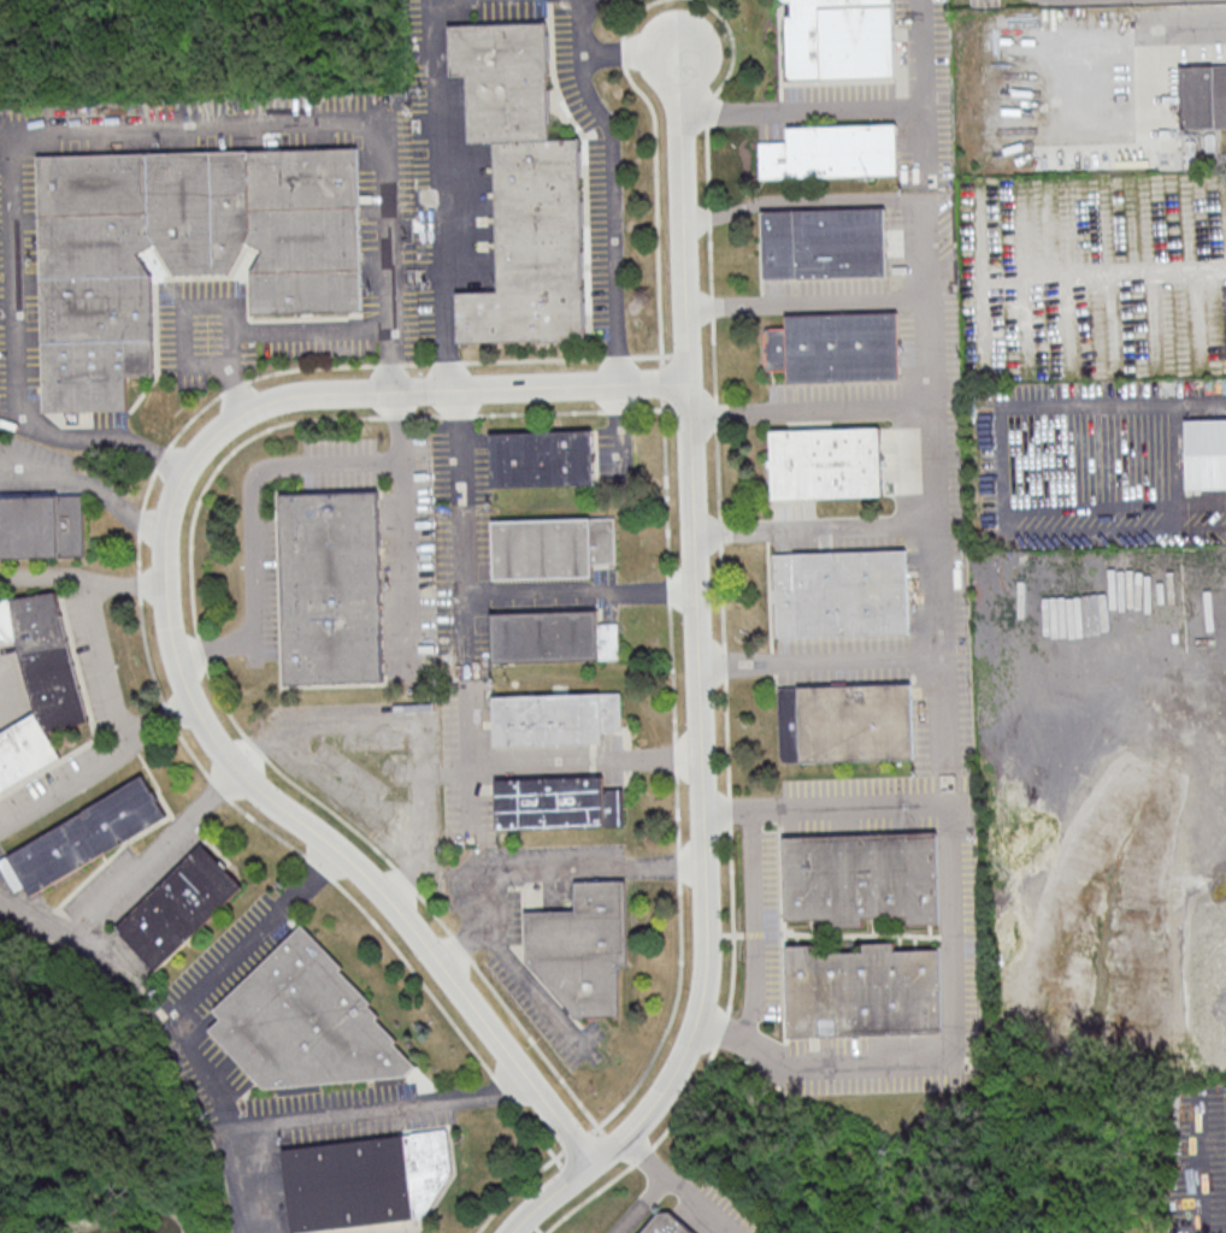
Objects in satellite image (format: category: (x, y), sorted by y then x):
road: (1110, 2)
road: (1116, 23)
building: (837, 37)
road: (631, 52)
building: (1203, 95)
road: (849, 105)
road: (182, 125)
road: (920, 137)
building: (830, 149)
road: (615, 187)
building: (520, 188)
road: (442, 191)
road: (844, 199)
building: (823, 242)
building: (177, 248)
road: (1108, 278)
road: (179, 320)
building: (841, 346)
road: (930, 352)
road: (388, 356)
building: (1204, 452)
building: (540, 458)
building: (823, 461)
road: (1001, 472)
road: (90, 480)
road: (249, 486)
road: (715, 492)
building: (40, 525)
road: (876, 525)
building: (548, 545)
road: (403, 564)
road: (665, 567)
road: (43, 582)
building: (329, 585)
road: (481, 591)
building: (837, 591)
road: (166, 626)
building: (549, 635)
road: (195, 637)
road: (106, 655)
road: (885, 659)
road: (695, 679)
building: (37, 680)
building: (552, 718)
building: (841, 721)
road: (947, 731)
road: (582, 760)
road: (465, 761)
road: (65, 769)
building: (554, 802)
building: (81, 834)
road: (160, 843)
road: (546, 863)
building: (857, 877)
building: (176, 905)
road: (753, 926)
road: (956, 940)
building: (585, 952)
road: (212, 975)
road: (526, 979)
building: (859, 990)
building: (302, 1021)
road: (719, 1028)
road: (689, 1099)
road: (328, 1110)
road: (572, 1138)
road: (641, 1154)
building: (361, 1179)
road: (674, 1186)
road: (514, 1190)
road: (584, 1197)
road: (639, 1204)
road: (526, 1222)
building: (662, 1223)
river: (130, 1226)
road: (535, 1231)

